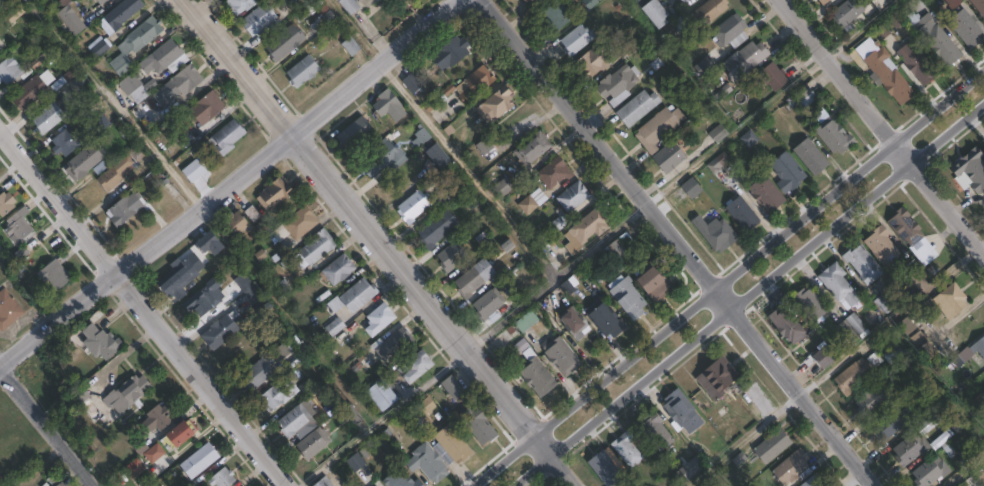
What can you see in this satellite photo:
building: (0, 0)
building: (101, 1)
building: (379, 1)
building: (635, 1)
building: (682, 1)
building: (531, 2)
building: (820, 2)
building: (588, 3)
building: (880, 3)
building: (951, 3)
building: (242, 5)
building: (351, 6)
building: (978, 7)
building: (707, 11)
building: (845, 12)
building: (14, 13)
building: (120, 14)
building: (651, 14)
building: (554, 15)
building: (71, 18)
building: (262, 18)
building: (673, 28)
building: (962, 28)
building: (726, 30)
road: (354, 31)
building: (879, 32)
building: (573, 40)
building: (935, 41)
building: (136, 42)
building: (287, 43)
building: (0, 46)
building: (98, 46)
building: (353, 46)
building: (452, 52)
building: (164, 57)
building: (741, 61)
building: (914, 61)
building: (591, 62)
building: (705, 65)
building: (10, 69)
road: (836, 70)
building: (882, 70)
building: (305, 71)
building: (769, 77)
building: (64, 78)
building: (187, 79)
building: (413, 82)
building: (615, 84)
building: (136, 86)
building: (466, 87)
building: (30, 91)
building: (800, 97)
building: (391, 104)
building: (497, 104)
road: (939, 104)
building: (207, 106)
building: (633, 109)
building: (165, 111)
building: (49, 115)
building: (656, 128)
building: (830, 132)
building: (357, 133)
building: (715, 133)
building: (228, 135)
building: (422, 135)
road: (948, 135)
building: (747, 139)
building: (67, 140)
building: (532, 148)
building: (137, 151)
road: (903, 152)
building: (440, 155)
building: (808, 155)
building: (383, 157)
building: (665, 158)
building: (84, 160)
building: (716, 163)
building: (968, 169)
building: (785, 171)
building: (116, 172)
road: (466, 172)
building: (556, 172)
building: (505, 183)
road: (227, 185)
building: (689, 188)
building: (448, 189)
building: (764, 191)
building: (276, 194)
building: (575, 196)
building: (533, 200)
building: (7, 205)
building: (414, 206)
building: (127, 207)
road: (948, 207)
building: (740, 213)
road: (360, 216)
building: (243, 219)
building: (559, 223)
building: (296, 224)
building: (21, 225)
building: (439, 227)
building: (588, 228)
building: (713, 232)
building: (909, 234)
building: (485, 239)
building: (212, 243)
road: (676, 243)
building: (316, 247)
building: (880, 247)
building: (617, 249)
building: (452, 255)
building: (860, 263)
building: (339, 269)
building: (57, 275)
building: (181, 277)
building: (475, 277)
building: (835, 283)
building: (657, 284)
building: (570, 285)
building: (249, 286)
road: (713, 287)
building: (360, 294)
building: (207, 296)
building: (629, 296)
building: (950, 298)
building: (807, 303)
building: (490, 305)
road: (731, 309)
building: (9, 310)
road: (144, 310)
building: (381, 318)
building: (606, 318)
building: (527, 320)
building: (855, 323)
building: (577, 324)
building: (335, 325)
building: (786, 325)
building: (225, 329)
building: (846, 330)
building: (345, 336)
building: (103, 343)
building: (395, 343)
road: (472, 343)
building: (978, 347)
building: (285, 349)
building: (924, 350)
building: (562, 354)
building: (819, 354)
building: (893, 355)
building: (415, 368)
building: (260, 371)
building: (539, 374)
building: (849, 375)
building: (714, 377)
building: (456, 387)
building: (131, 394)
building: (383, 394)
building: (275, 397)
building: (867, 402)
building: (429, 403)
building: (679, 411)
building: (932, 411)
building: (354, 414)
building: (159, 420)
building: (300, 420)
road: (48, 421)
building: (888, 422)
building: (479, 424)
building: (654, 431)
building: (181, 436)
road: (743, 440)
building: (940, 440)
building: (454, 441)
building: (315, 442)
road: (542, 444)
building: (770, 445)
building: (624, 448)
building: (907, 449)
building: (202, 459)
road: (500, 460)
building: (356, 461)
building: (431, 461)
building: (788, 466)
building: (601, 467)
building: (135, 468)
building: (687, 468)
road: (531, 470)
road: (563, 470)
building: (927, 471)
road: (965, 471)
building: (225, 477)
building: (402, 478)
building: (325, 481)
building: (810, 482)
building: (377, 484)
building: (59, 485)

